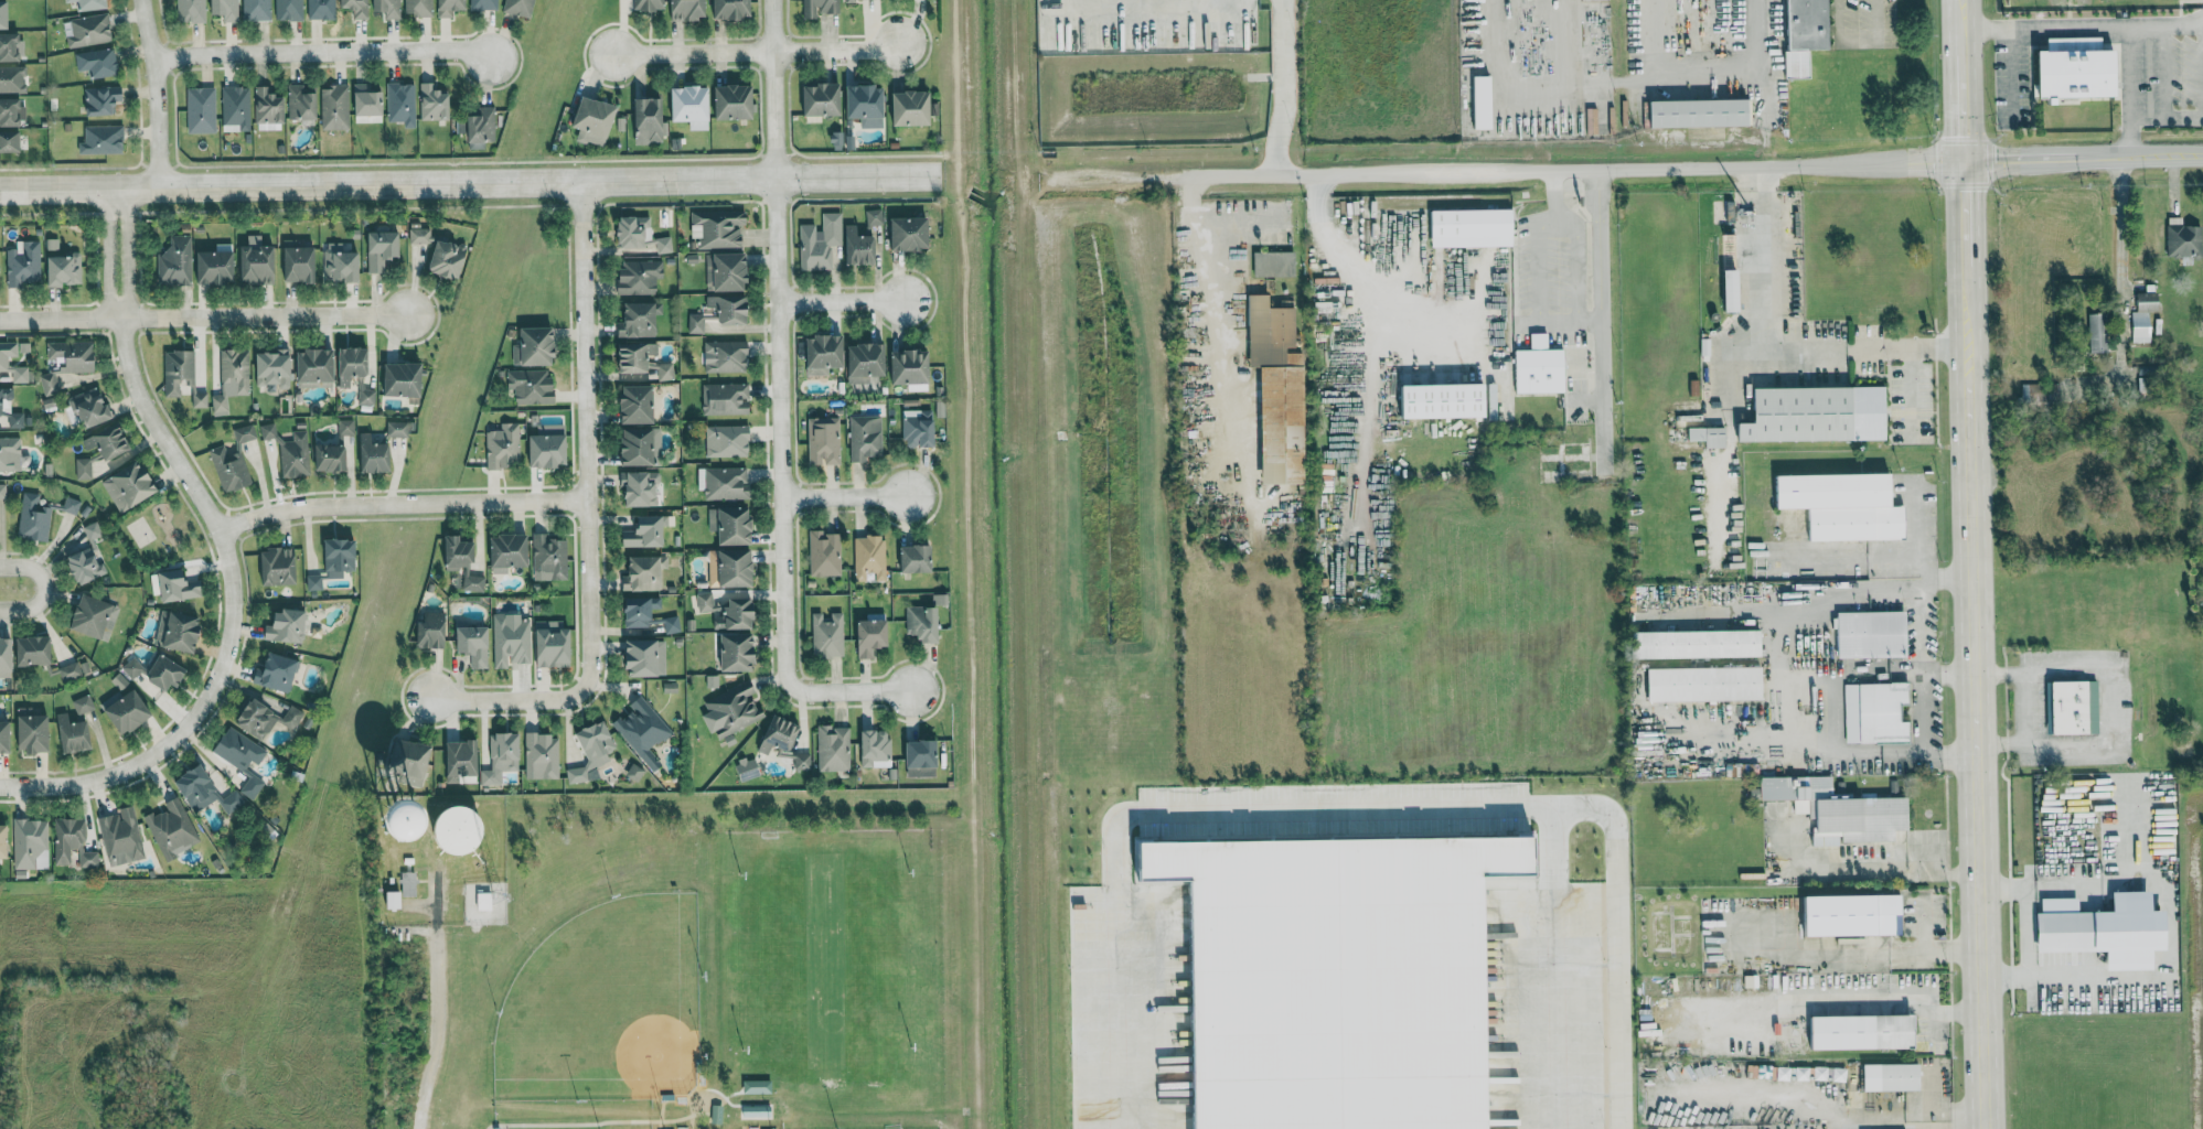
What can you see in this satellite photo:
building: (858, 0)
building: (1586, 0)
building: (87, 4)
building: (483, 4)
building: (650, 4)
building: (356, 8)
building: (387, 8)
building: (418, 8)
building: (450, 8)
building: (520, 8)
building: (820, 8)
building: (226, 9)
building: (256, 10)
building: (288, 10)
building: (321, 10)
building: (732, 10)
building: (191, 11)
road: (1960, 13)
building: (4, 15)
road: (2104, 25)
road: (2160, 28)
building: (89, 31)
building: (1809, 33)
road: (1857, 41)
road: (1961, 41)
building: (10, 47)
road: (323, 52)
road: (758, 52)
building: (97, 63)
building: (11, 79)
road: (1621, 80)
road: (1276, 87)
road: (773, 88)
road: (157, 93)
building: (101, 100)
building: (824, 100)
building: (735, 103)
building: (1485, 103)
building: (301, 104)
building: (368, 104)
building: (402, 104)
building: (434, 104)
building: (868, 106)
building: (269, 107)
building: (334, 107)
building: (692, 107)
road: (1964, 107)
building: (235, 109)
building: (912, 109)
building: (201, 110)
building: (11, 114)
building: (1702, 114)
building: (650, 119)
building: (595, 121)
building: (1593, 121)
building: (461, 127)
building: (482, 128)
building: (103, 140)
building: (10, 141)
road: (2161, 155)
road: (2042, 158)
road: (1509, 171)
road: (469, 183)
road: (1554, 195)
building: (1724, 212)
road: (1966, 213)
building: (875, 217)
building: (1474, 228)
building: (719, 229)
building: (637, 232)
building: (910, 235)
building: (419, 236)
building: (2179, 239)
building: (820, 243)
building: (664, 245)
building: (859, 247)
building: (53, 248)
building: (381, 250)
road: (127, 254)
road: (107, 255)
road: (2120, 257)
building: (448, 259)
road: (1211, 260)
building: (175, 261)
building: (299, 262)
building: (24, 265)
building: (341, 265)
building: (1275, 265)
building: (258, 266)
building: (216, 268)
building: (65, 271)
building: (728, 272)
building: (640, 278)
building: (0, 288)
building: (1735, 290)
road: (842, 301)
building: (2142, 301)
road: (1968, 307)
building: (731, 309)
road: (264, 315)
road: (1600, 316)
road: (60, 319)
building: (640, 321)
road: (1558, 322)
road: (1590, 322)
building: (696, 324)
building: (2137, 326)
building: (2094, 332)
road: (1760, 333)
building: (536, 348)
road: (1938, 348)
building: (825, 354)
building: (73, 356)
building: (726, 357)
building: (14, 361)
building: (644, 361)
building: (867, 363)
building: (354, 365)
building: (317, 366)
building: (911, 367)
building: (1541, 368)
building: (274, 369)
building: (182, 376)
building: (232, 379)
building: (404, 380)
building: (49, 385)
building: (532, 387)
building: (1281, 390)
road: (1910, 393)
building: (2035, 394)
building: (366, 397)
building: (726, 399)
building: (1451, 402)
building: (640, 405)
building: (92, 408)
building: (10, 410)
building: (1819, 416)
building: (398, 429)
building: (919, 429)
building: (244, 433)
road: (781, 433)
building: (1710, 437)
building: (866, 438)
building: (823, 441)
building: (109, 442)
building: (728, 442)
building: (504, 447)
building: (641, 447)
building: (548, 448)
building: (336, 450)
building: (289, 451)
building: (10, 454)
building: (374, 456)
building: (83, 469)
building: (229, 470)
building: (727, 484)
building: (130, 486)
building: (641, 490)
road: (845, 497)
road: (400, 504)
building: (1836, 504)
road: (586, 514)
building: (40, 516)
building: (732, 526)
road: (1914, 531)
building: (646, 534)
building: (509, 553)
building: (824, 553)
building: (340, 558)
building: (549, 558)
building: (869, 559)
building: (917, 560)
building: (464, 562)
building: (85, 567)
building: (279, 568)
building: (737, 569)
building: (643, 574)
road: (1949, 576)
road: (1924, 581)
building: (314, 582)
road: (42, 587)
building: (179, 587)
road: (1897, 588)
building: (705, 602)
building: (641, 611)
building: (735, 614)
road: (229, 615)
building: (94, 617)
building: (923, 623)
building: (671, 625)
building: (286, 627)
road: (1918, 630)
building: (180, 632)
building: (432, 632)
building: (1867, 633)
building: (828, 636)
building: (873, 637)
building: (510, 641)
building: (1689, 643)
building: (553, 645)
building: (475, 646)
building: (739, 653)
building: (7, 658)
building: (46, 658)
building: (645, 658)
building: (159, 671)
building: (277, 673)
building: (1699, 682)
road: (851, 692)
building: (2062, 707)
road: (2109, 707)
road: (2025, 708)
building: (731, 710)
building: (1870, 711)
building: (129, 713)
road: (1831, 716)
road: (1918, 716)
building: (265, 719)
building: (75, 728)
building: (642, 731)
building: (34, 735)
building: (780, 735)
building: (6, 738)
road: (1977, 739)
building: (833, 749)
building: (876, 749)
building: (239, 750)
building: (542, 757)
building: (502, 759)
building: (922, 759)
building: (461, 761)
building: (802, 762)
building: (410, 763)
building: (748, 768)
building: (634, 773)
building: (252, 787)
building: (206, 793)
building: (1832, 809)
road: (1339, 811)
building: (171, 829)
building: (451, 831)
building: (119, 837)
building: (4, 840)
building: (31, 843)
building: (72, 843)
road: (1884, 871)
building: (403, 890)
building: (484, 901)
building: (1844, 914)
road: (2169, 927)
building: (2097, 928)
building: (1322, 977)
road: (1883, 1001)
road: (436, 1030)
building: (1854, 1031)
building: (1750, 1071)
building: (1826, 1073)
building: (1886, 1076)
building: (757, 1086)

